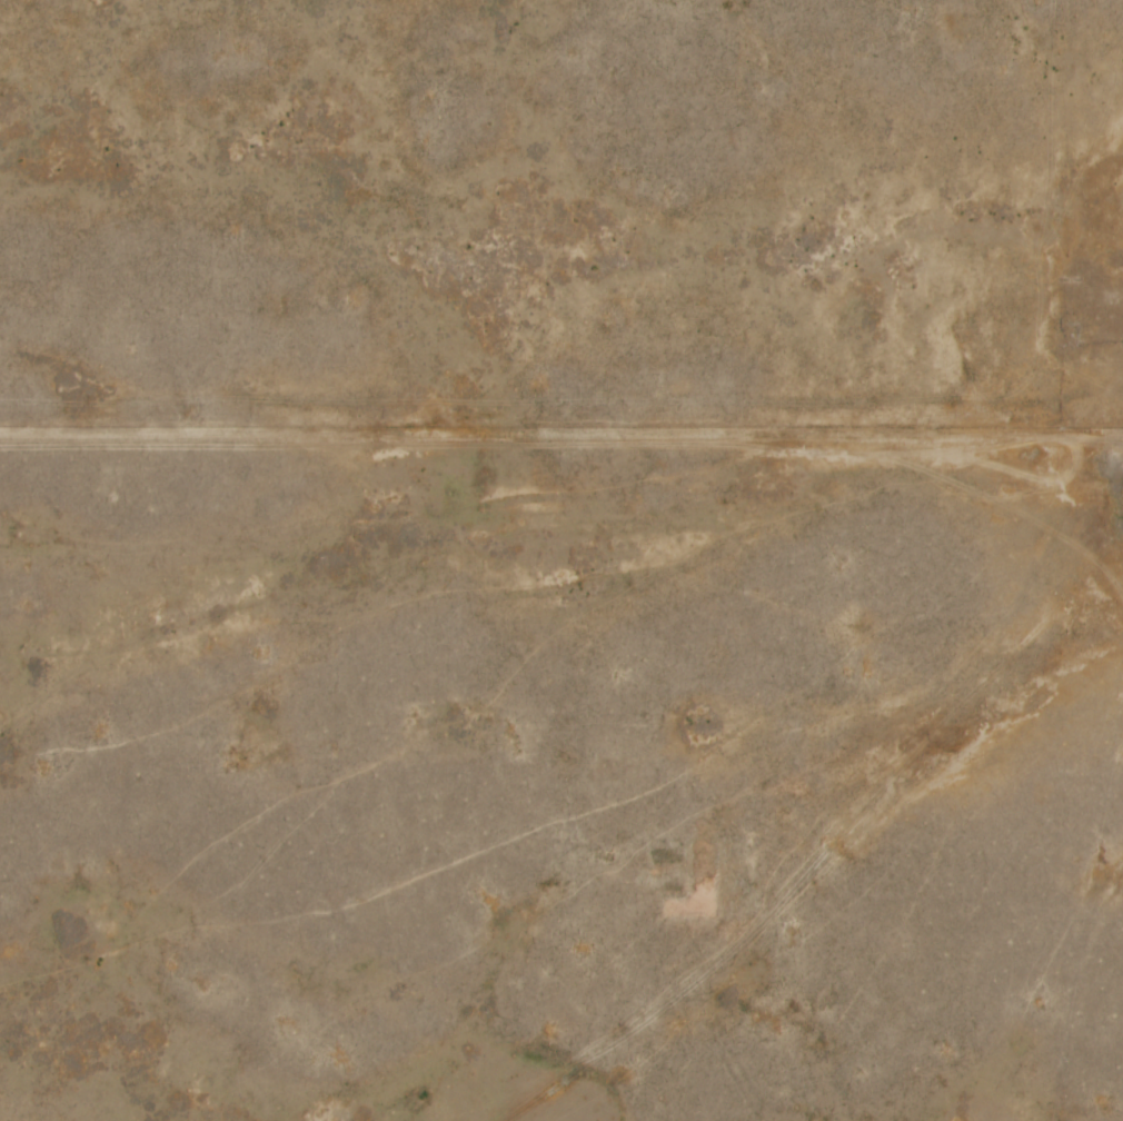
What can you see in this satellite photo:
road: (811, 934)

